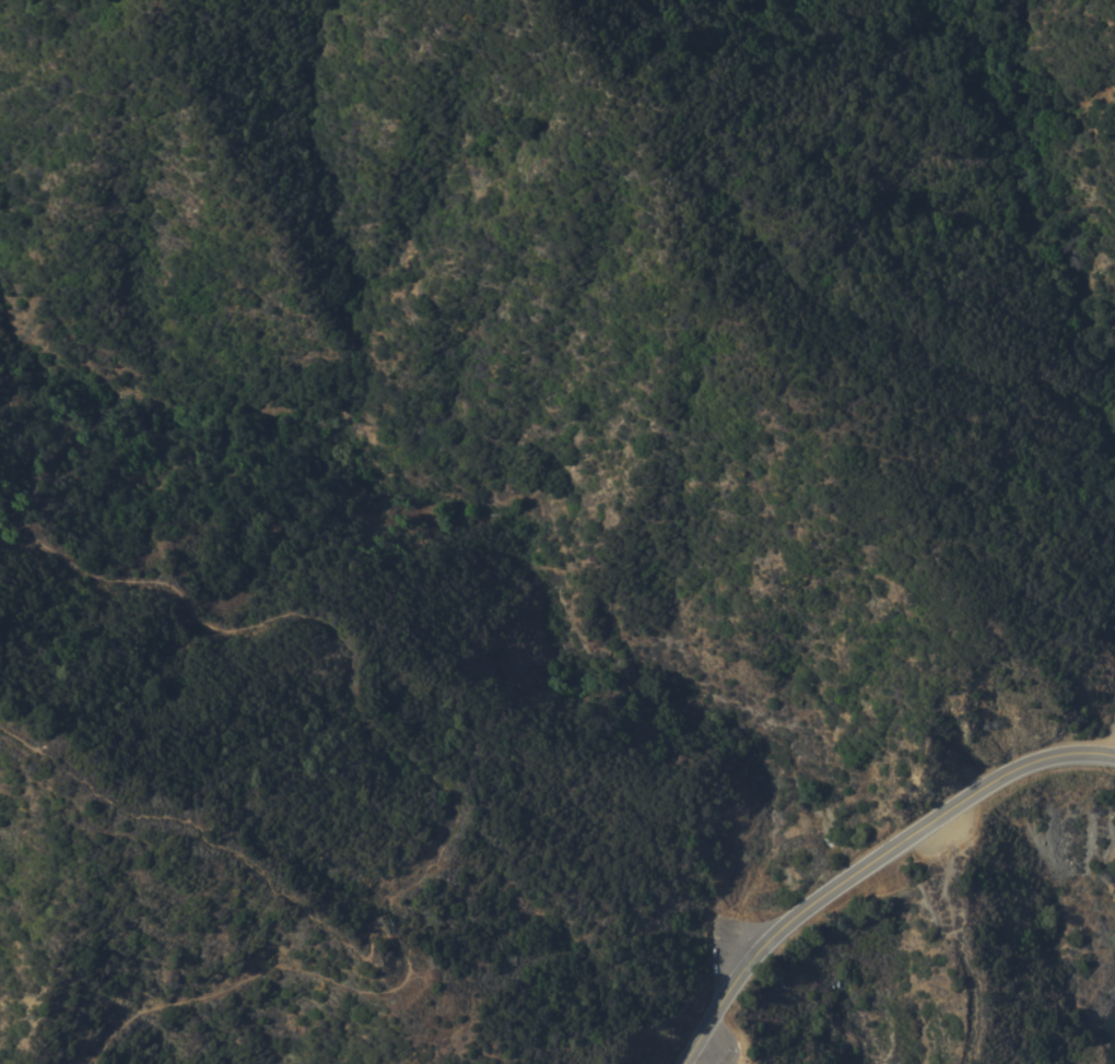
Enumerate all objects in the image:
road: (451, 805)
road: (198, 836)
road: (870, 864)

